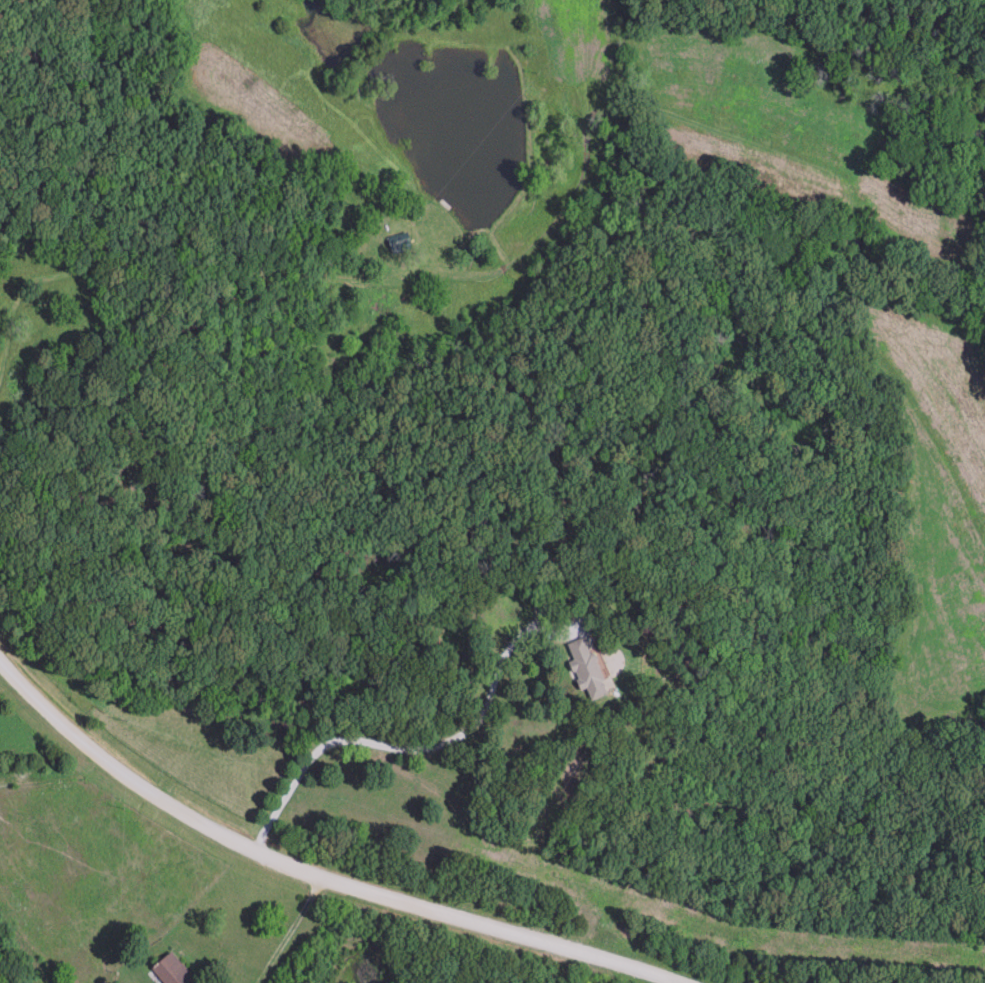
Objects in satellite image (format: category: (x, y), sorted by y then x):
building: (402, 243)
building: (590, 669)
road: (405, 743)
road: (314, 868)
road: (288, 928)
building: (173, 972)

